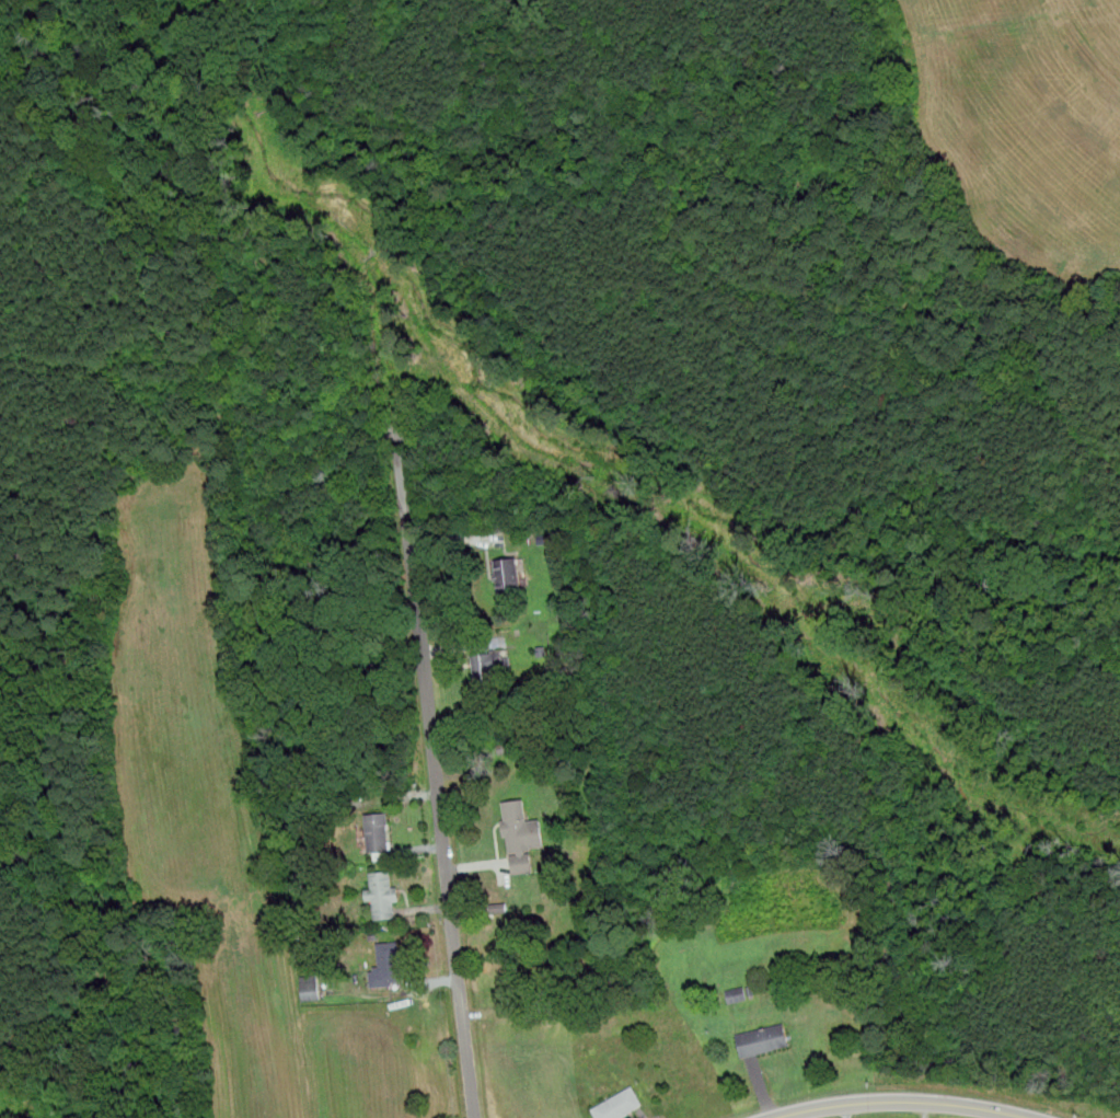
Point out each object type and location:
building: (508, 575)
building: (487, 661)
building: (505, 748)
road: (436, 771)
building: (378, 831)
building: (521, 834)
building: (383, 894)
building: (388, 964)
building: (310, 990)
building: (737, 995)
building: (763, 1039)
road: (903, 1102)
building: (620, 1104)

